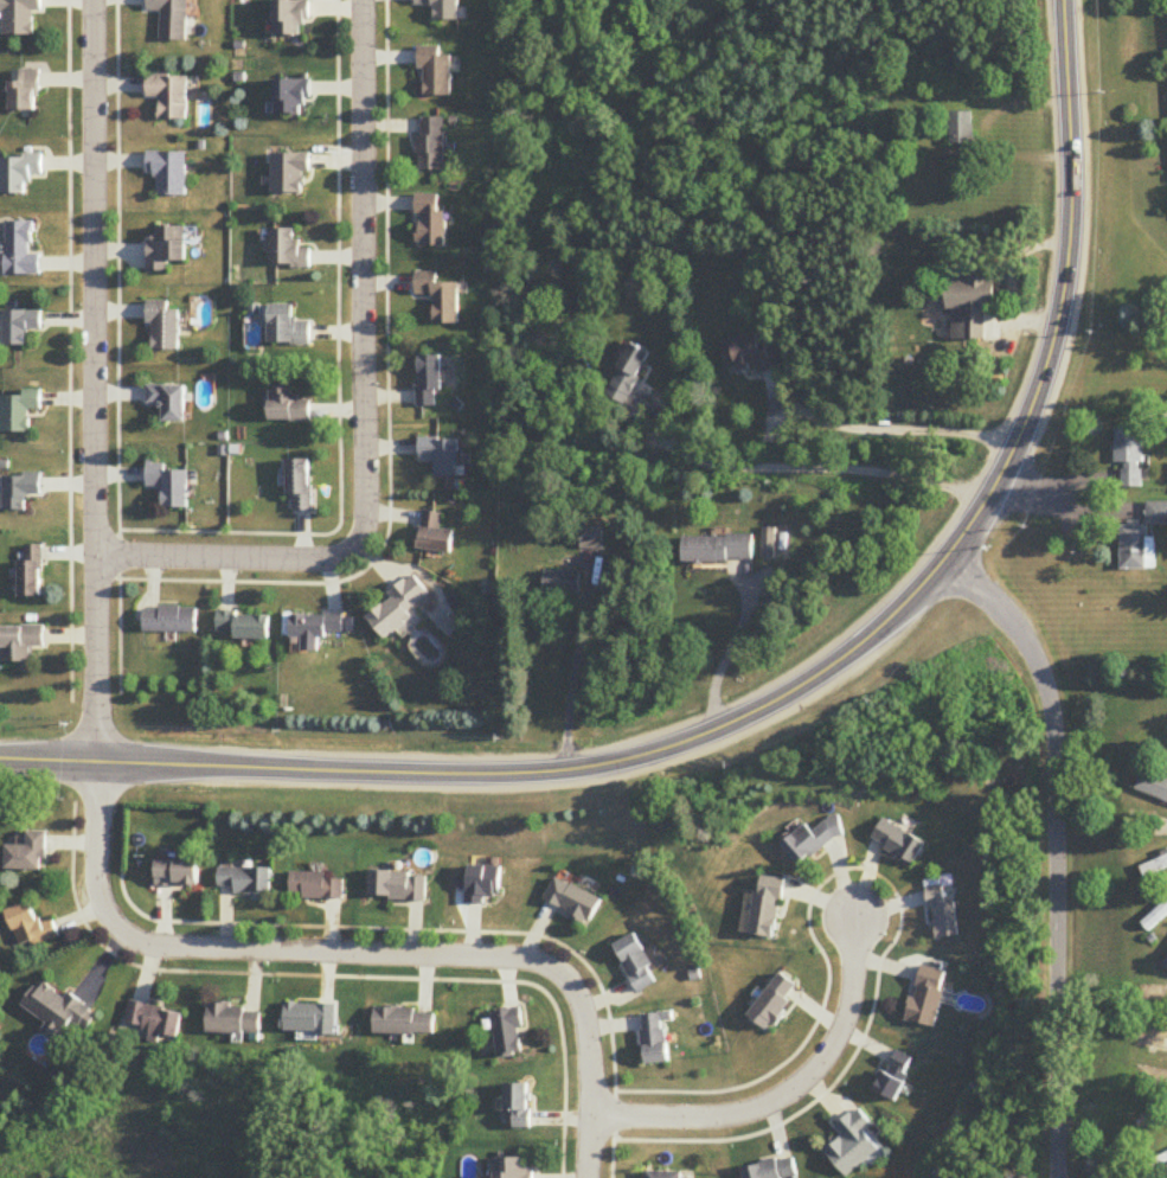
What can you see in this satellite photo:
building: (443, 9)
building: (19, 18)
building: (172, 19)
building: (293, 20)
building: (436, 75)
building: (25, 95)
building: (171, 97)
building: (294, 98)
building: (962, 130)
building: (431, 146)
building: (169, 174)
building: (19, 175)
building: (291, 175)
building: (431, 223)
building: (171, 249)
building: (289, 250)
building: (20, 252)
road: (94, 280)
building: (441, 297)
building: (972, 308)
building: (289, 327)
building: (20, 328)
building: (165, 328)
building: (749, 357)
building: (628, 373)
building: (430, 380)
building: (171, 402)
building: (289, 405)
road: (366, 405)
building: (20, 411)
road: (887, 428)
building: (441, 455)
building: (1130, 456)
road: (808, 468)
building: (171, 485)
building: (300, 485)
building: (20, 492)
building: (1158, 513)
building: (434, 533)
building: (1137, 548)
building: (717, 549)
building: (31, 572)
building: (563, 583)
building: (398, 607)
building: (169, 620)
building: (244, 626)
building: (318, 628)
building: (20, 644)
road: (1025, 645)
road: (729, 652)
road: (97, 661)
road: (575, 671)
road: (786, 696)
building: (1153, 786)
building: (810, 840)
building: (897, 841)
building: (28, 853)
building: (1154, 868)
building: (178, 872)
building: (246, 881)
building: (482, 884)
building: (315, 886)
building: (398, 886)
building: (571, 899)
building: (762, 909)
building: (942, 914)
building: (1155, 918)
building: (31, 927)
road: (360, 954)
building: (636, 963)
road: (1054, 966)
building: (926, 997)
building: (774, 1003)
building: (59, 1011)
building: (310, 1017)
building: (235, 1020)
building: (156, 1022)
building: (405, 1023)
building: (509, 1033)
building: (654, 1039)
building: (896, 1076)
road: (789, 1094)
building: (520, 1105)
building: (853, 1144)
building: (515, 1169)
building: (771, 1170)
building: (665, 1174)

